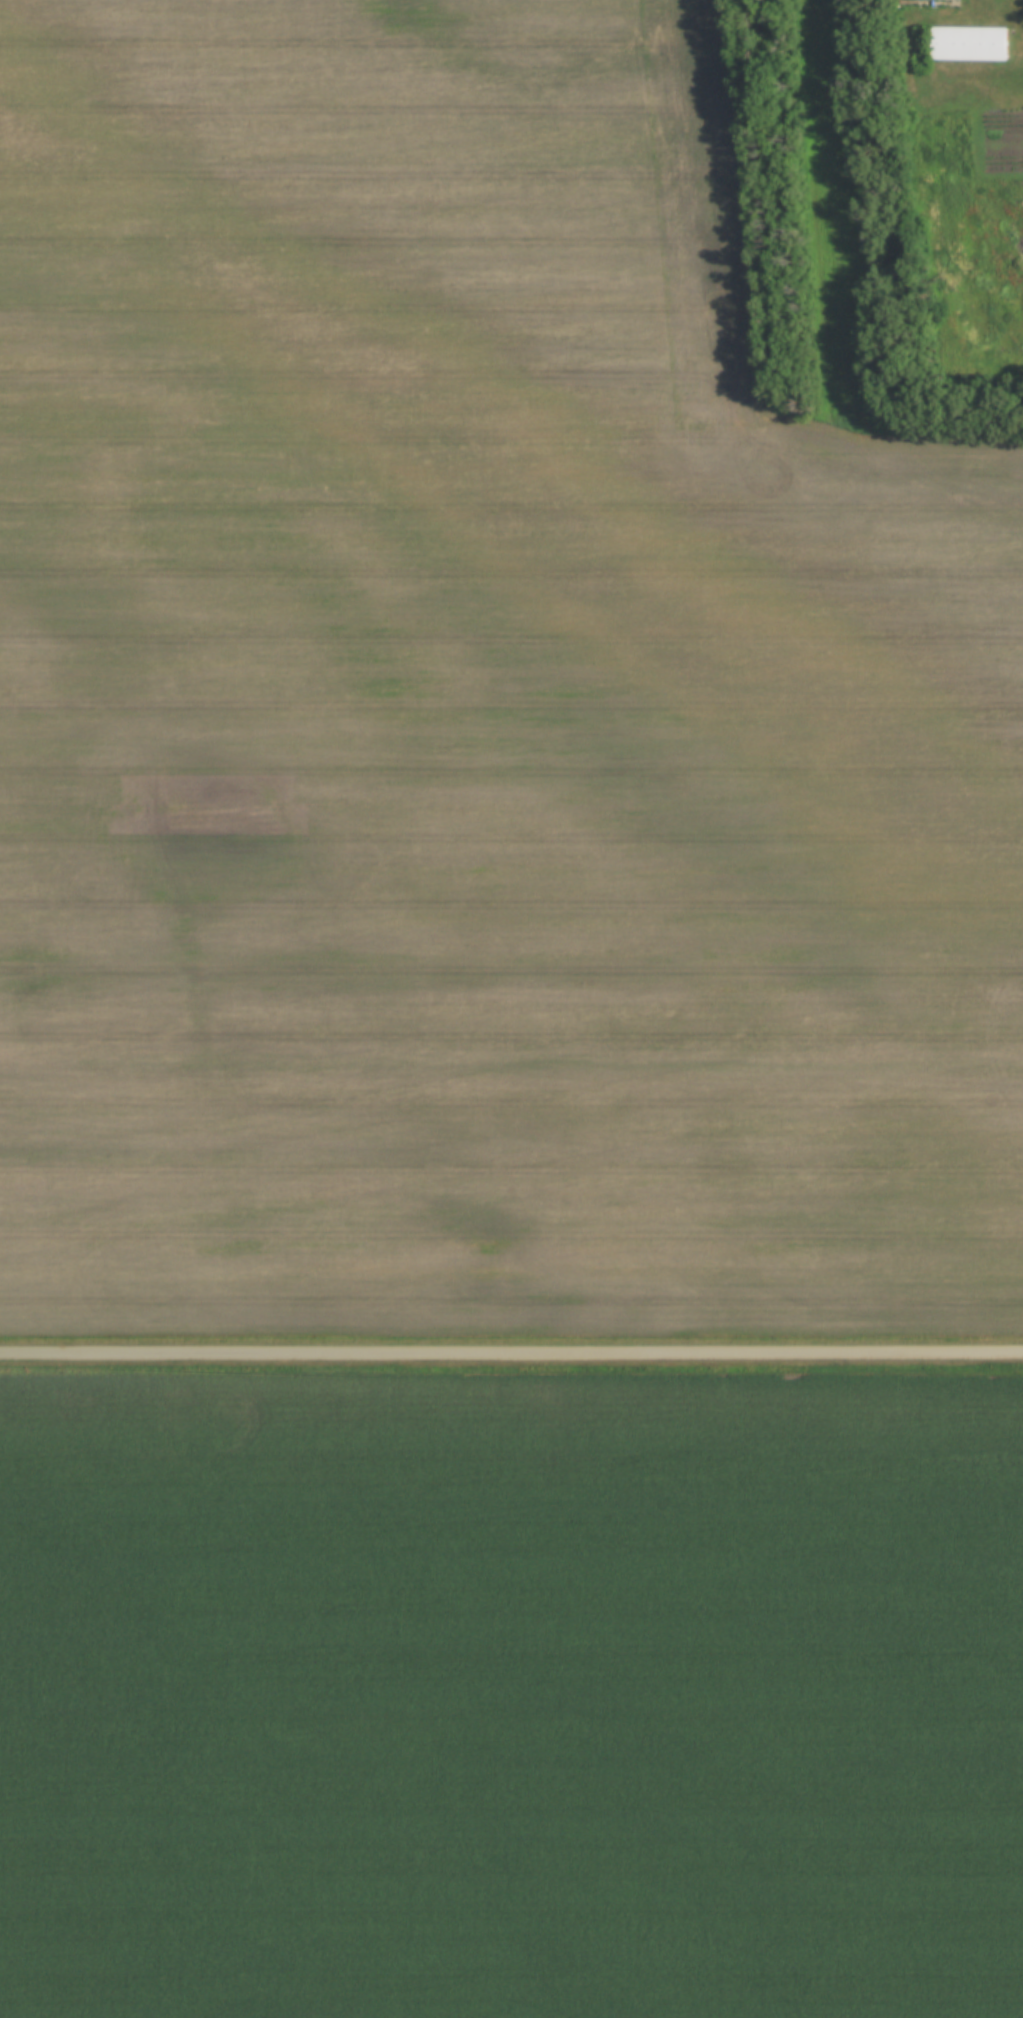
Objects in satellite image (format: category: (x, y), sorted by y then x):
building: (970, 46)
road: (511, 1353)

